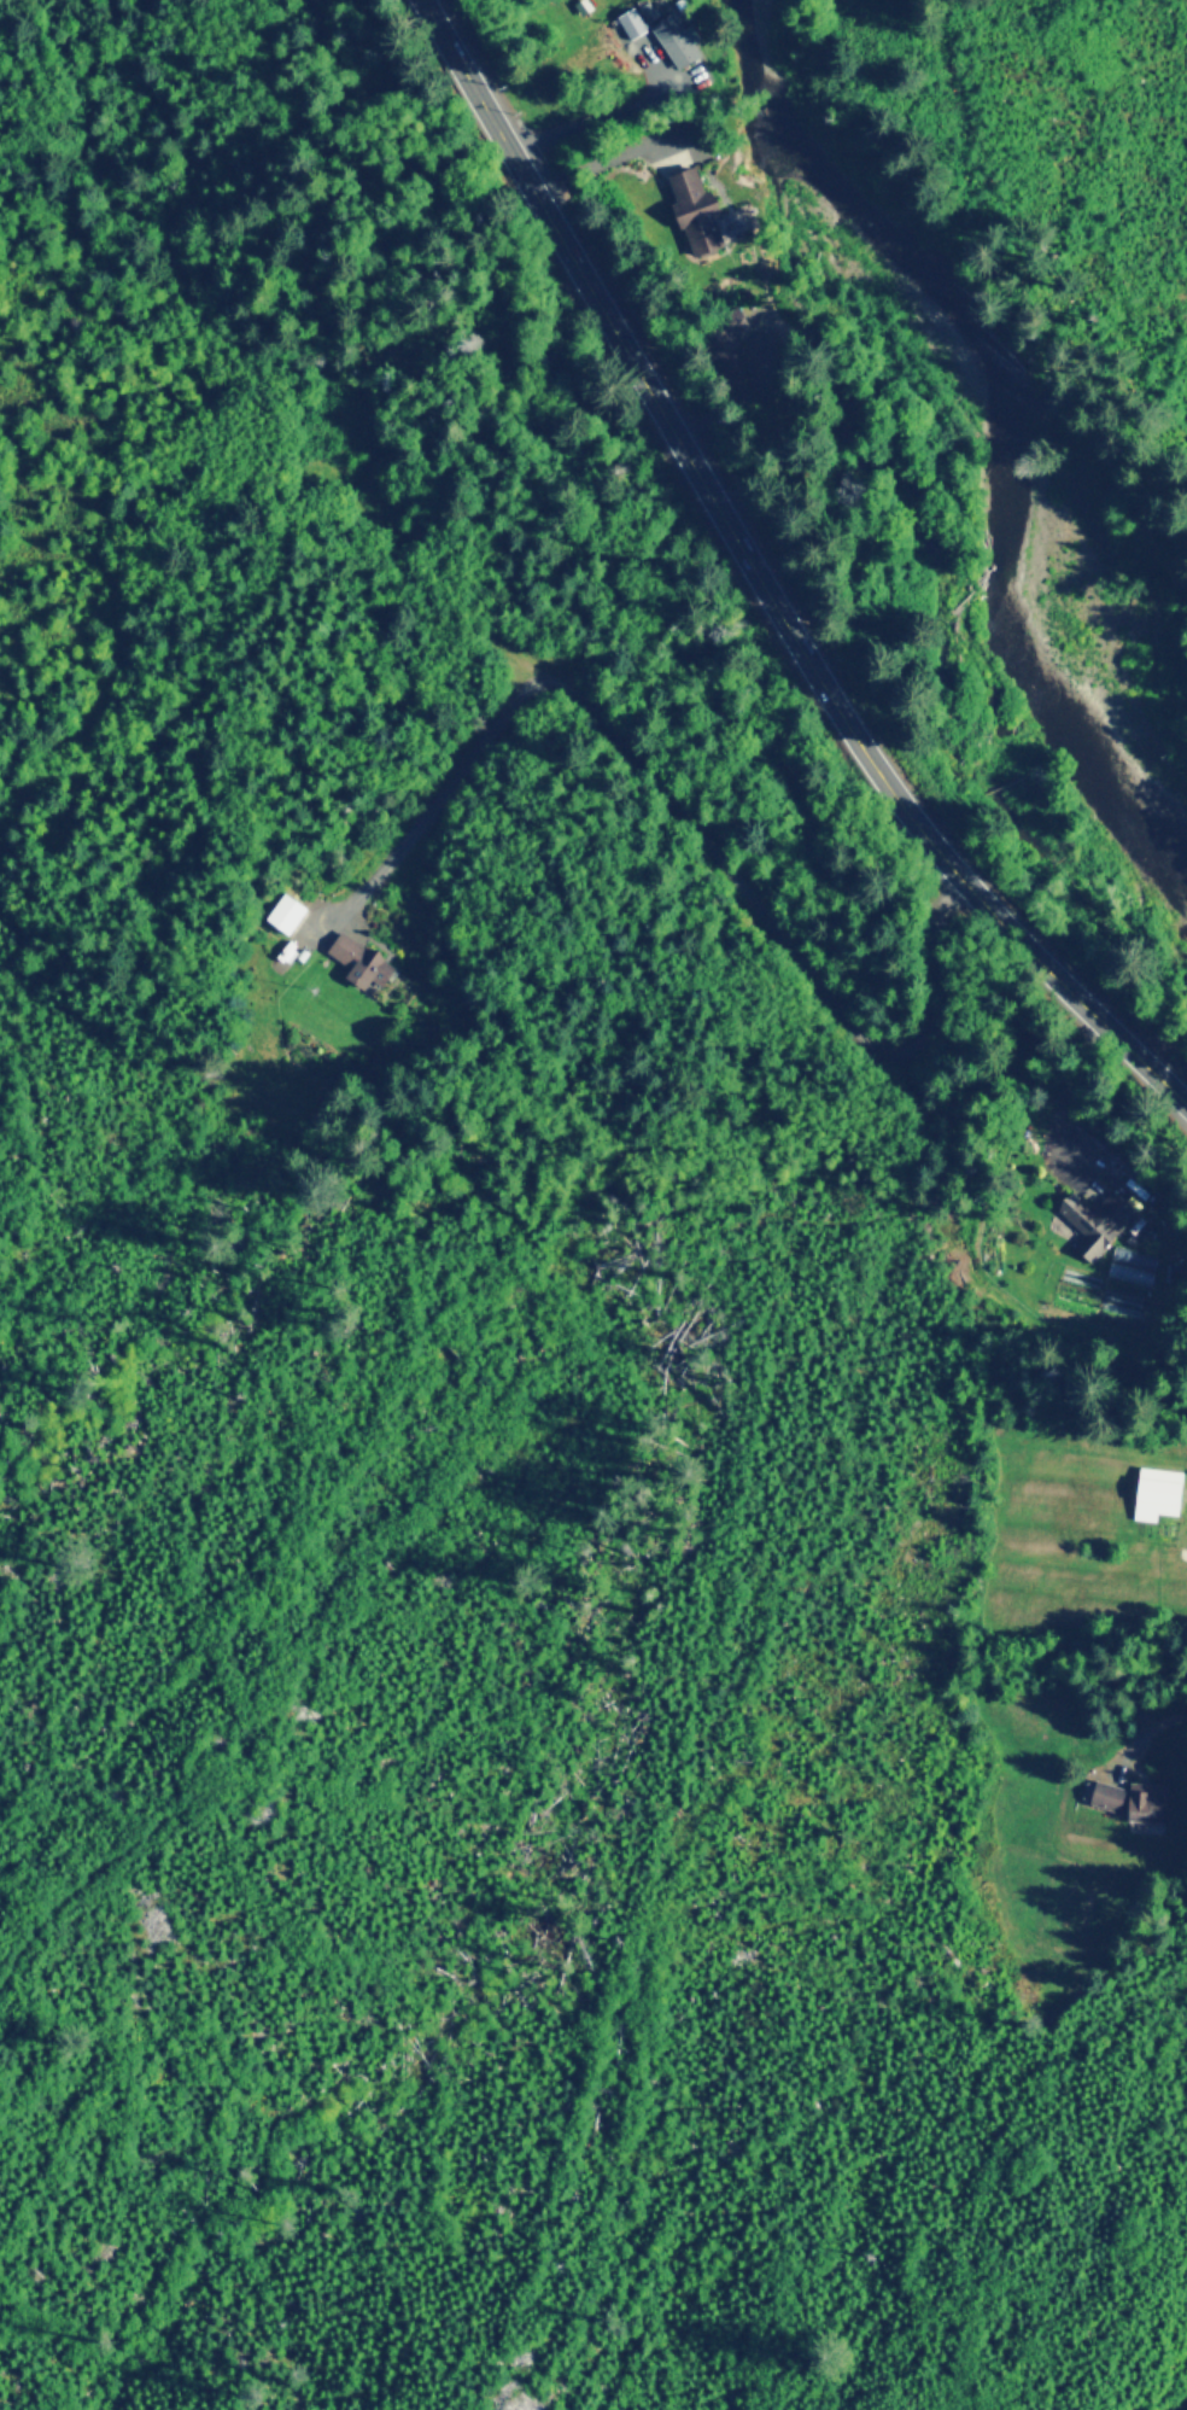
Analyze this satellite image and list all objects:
building: (630, 21)
building: (668, 33)
building: (695, 210)
river: (1023, 392)
road: (761, 582)
building: (285, 911)
building: (359, 959)
building: (1095, 1218)
building: (1156, 1492)
building: (1121, 1797)
road: (103, 1874)
road: (1182, 2405)

